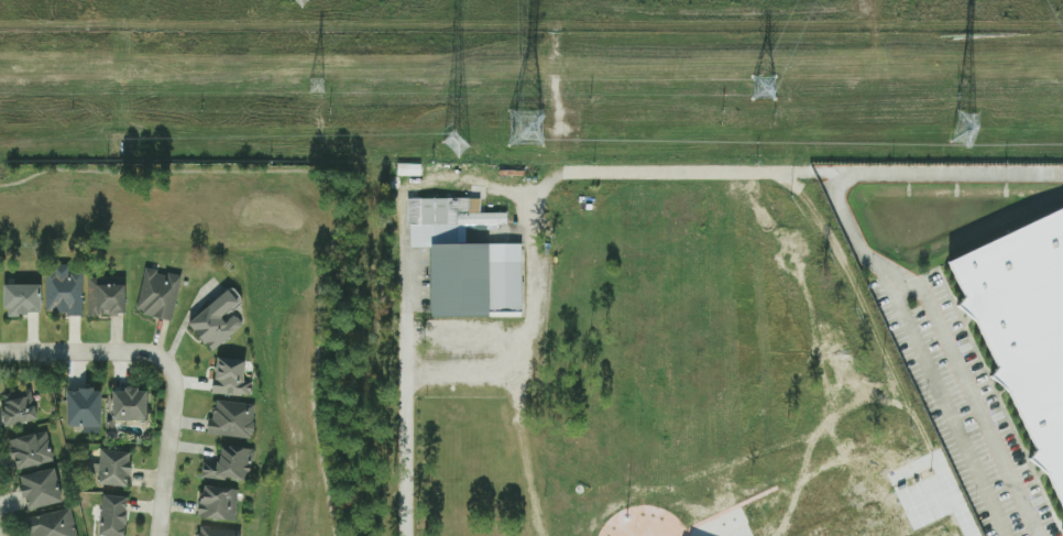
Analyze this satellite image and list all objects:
power tower: (765, 86)
power tower: (316, 89)
power tower: (526, 130)
power tower: (963, 130)
power tower: (457, 144)
building: (409, 169)
road: (336, 193)
road: (519, 205)
building: (467, 259)
road: (873, 261)
building: (63, 288)
building: (157, 294)
building: (107, 296)
building: (23, 298)
road: (405, 298)
park: (256, 299)
building: (218, 319)
building: (1026, 325)
road: (167, 365)
building: (231, 376)
building: (130, 403)
building: (19, 407)
building: (85, 409)
building: (232, 418)
building: (31, 449)
building: (230, 463)
building: (116, 467)
building: (41, 488)
building: (218, 502)
building: (114, 515)
building: (53, 524)
building: (1062, 528)
building: (216, 532)

